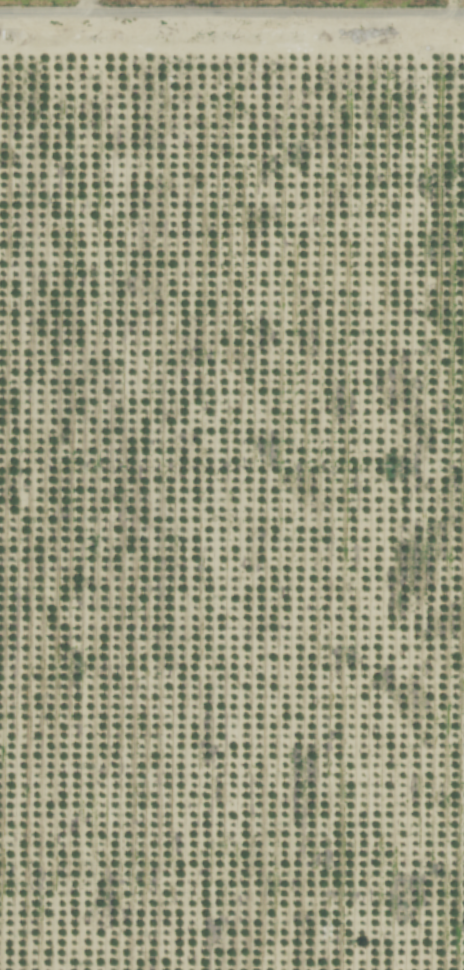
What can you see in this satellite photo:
road: (231, 14)

